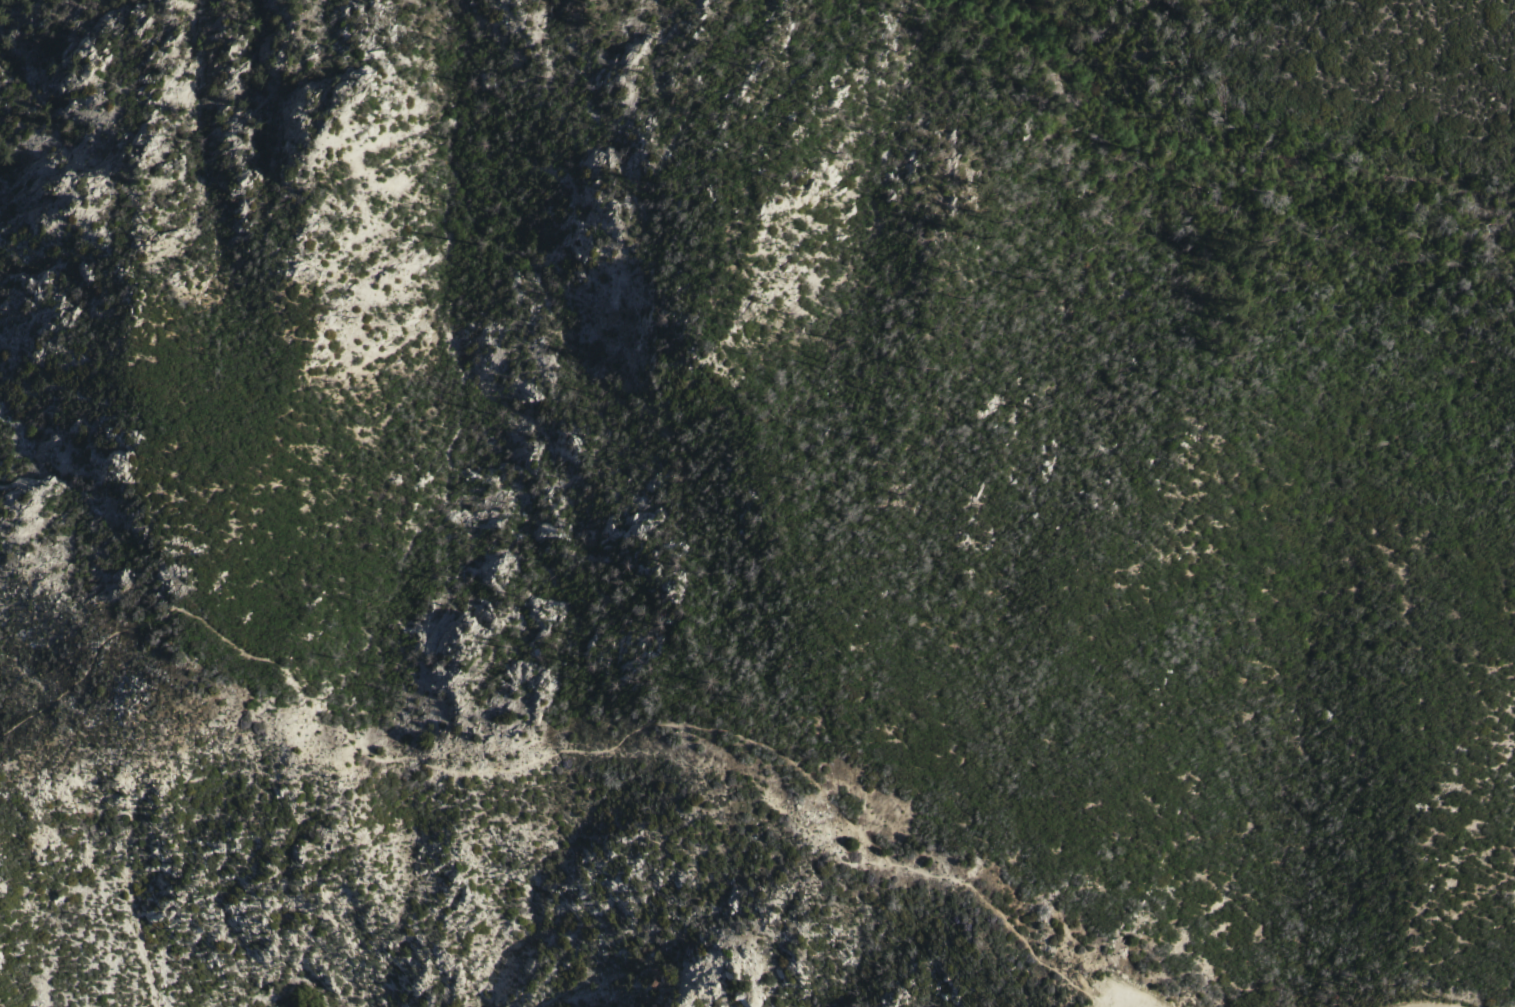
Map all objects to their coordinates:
road: (566, 752)
road: (1426, 998)

